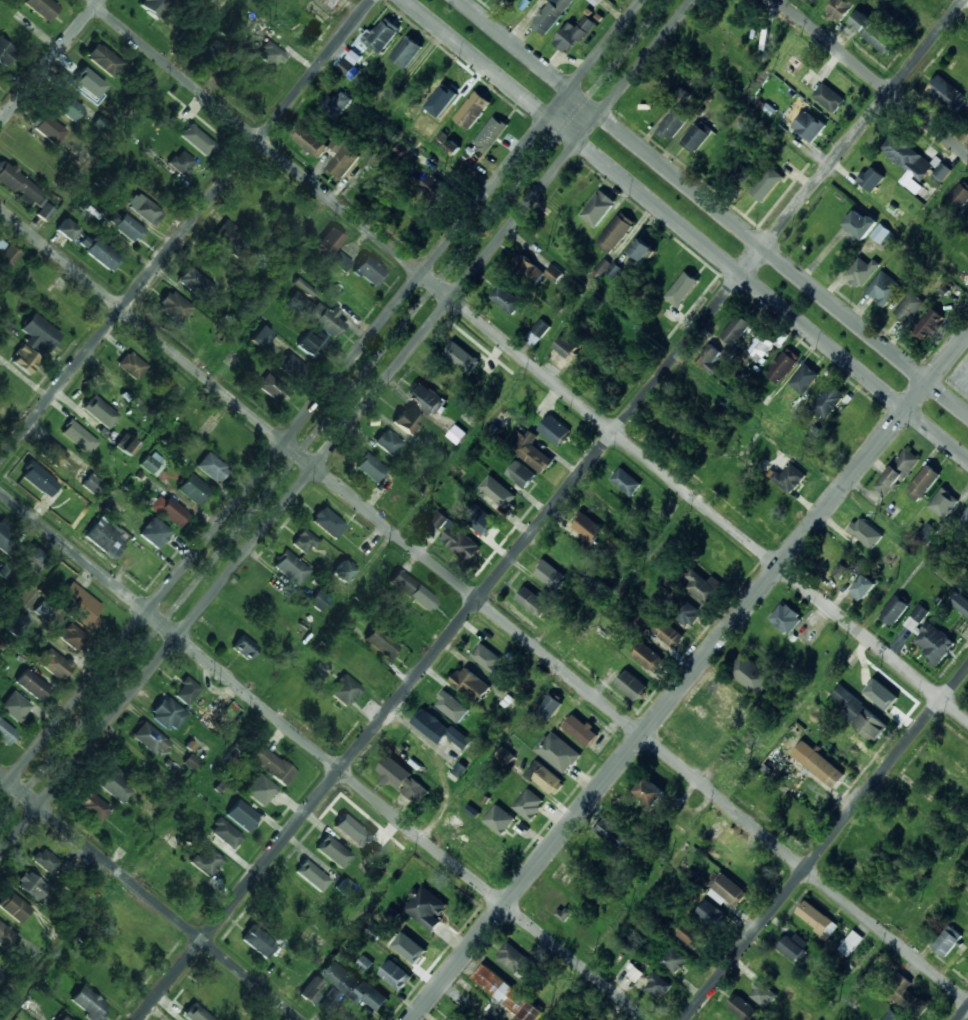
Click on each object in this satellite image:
building: (813, 1)
building: (520, 5)
building: (152, 6)
building: (41, 8)
building: (839, 9)
building: (727, 13)
building: (552, 15)
building: (896, 16)
building: (256, 26)
building: (874, 33)
building: (574, 34)
building: (383, 35)
building: (407, 52)
building: (5, 53)
building: (214, 54)
building: (270, 55)
building: (103, 60)
road: (49, 61)
building: (350, 65)
road: (874, 76)
building: (87, 82)
building: (446, 92)
building: (945, 92)
building: (829, 98)
building: (652, 103)
building: (337, 104)
building: (65, 106)
building: (472, 110)
building: (676, 121)
building: (809, 127)
building: (47, 129)
building: (426, 129)
building: (490, 135)
building: (695, 138)
building: (196, 139)
building: (311, 141)
building: (452, 147)
building: (29, 152)
building: (343, 157)
building: (905, 160)
building: (181, 163)
building: (941, 173)
building: (740, 175)
building: (871, 178)
building: (18, 185)
building: (435, 188)
building: (767, 191)
building: (267, 194)
building: (960, 194)
road: (714, 207)
building: (143, 209)
building: (600, 210)
building: (44, 211)
building: (411, 219)
building: (860, 224)
building: (128, 229)
road: (185, 229)
road: (687, 229)
building: (66, 231)
building: (616, 233)
building: (881, 233)
building: (229, 241)
building: (329, 243)
building: (642, 250)
building: (98, 252)
building: (6, 257)
building: (340, 262)
building: (602, 266)
building: (613, 269)
building: (533, 271)
building: (861, 271)
building: (369, 272)
building: (194, 283)
building: (682, 288)
building: (883, 288)
building: (507, 300)
building: (173, 307)
building: (909, 308)
building: (315, 314)
building: (5, 321)
building: (929, 326)
building: (737, 328)
building: (40, 333)
building: (537, 333)
building: (260, 338)
building: (312, 344)
building: (761, 346)
building: (566, 348)
building: (465, 358)
building: (710, 358)
road: (528, 359)
building: (24, 360)
building: (783, 365)
building: (131, 366)
building: (293, 368)
building: (804, 379)
building: (271, 389)
road: (321, 396)
building: (426, 398)
building: (828, 402)
road: (330, 409)
road: (169, 415)
building: (103, 416)
building: (407, 421)
building: (848, 423)
road: (345, 427)
building: (555, 430)
building: (457, 434)
building: (78, 437)
building: (388, 443)
building: (125, 445)
building: (530, 451)
building: (437, 457)
building: (59, 460)
building: (153, 464)
building: (211, 468)
building: (371, 468)
building: (897, 472)
building: (521, 475)
building: (789, 478)
building: (39, 480)
building: (626, 482)
building: (923, 482)
building: (92, 484)
building: (194, 490)
building: (500, 497)
building: (946, 500)
road: (550, 509)
building: (168, 511)
building: (965, 518)
building: (439, 520)
building: (480, 520)
building: (327, 523)
building: (587, 527)
building: (865, 532)
building: (5, 534)
building: (154, 534)
building: (106, 538)
building: (460, 542)
building: (304, 543)
building: (365, 546)
building: (34, 559)
building: (841, 567)
building: (290, 568)
building: (343, 571)
building: (549, 573)
building: (700, 586)
building: (865, 586)
building: (598, 587)
building: (412, 591)
building: (319, 600)
building: (532, 601)
building: (960, 602)
road: (484, 605)
building: (82, 606)
building: (895, 609)
building: (685, 611)
building: (785, 616)
road: (326, 617)
building: (16, 625)
building: (659, 628)
building: (72, 637)
building: (934, 642)
building: (380, 643)
building: (243, 646)
building: (647, 656)
building: (488, 659)
building: (54, 664)
building: (364, 667)
building: (750, 674)
road: (689, 676)
building: (471, 683)
building: (32, 684)
building: (632, 685)
building: (186, 691)
building: (343, 691)
building: (887, 701)
building: (17, 706)
building: (451, 706)
building: (549, 706)
building: (211, 713)
building: (860, 713)
building: (167, 714)
building: (329, 716)
building: (438, 727)
building: (581, 730)
building: (5, 733)
building: (150, 739)
building: (558, 751)
road: (323, 756)
building: (505, 756)
road: (485, 758)
building: (775, 760)
building: (130, 763)
building: (818, 764)
building: (272, 765)
building: (545, 778)
building: (403, 779)
building: (112, 783)
building: (261, 792)
building: (654, 793)
building: (529, 804)
building: (92, 806)
building: (791, 813)
building: (242, 815)
building: (505, 824)
road: (704, 824)
building: (350, 831)
building: (612, 832)
building: (225, 833)
building: (171, 839)
road: (824, 844)
building: (389, 846)
building: (329, 848)
building: (152, 856)
building: (595, 856)
building: (45, 861)
building: (206, 861)
building: (307, 870)
building: (186, 883)
building: (31, 886)
building: (730, 889)
road: (149, 897)
building: (13, 907)
building: (425, 907)
building: (564, 913)
building: (710, 913)
building: (817, 918)
building: (691, 936)
building: (7, 938)
building: (146, 940)
building: (947, 940)
building: (257, 941)
building: (850, 942)
building: (794, 946)
building: (408, 949)
building: (674, 959)
building: (516, 960)
building: (635, 973)
building: (395, 974)
building: (657, 985)
building: (349, 986)
building: (311, 990)
building: (762, 993)
building: (507, 994)
building: (906, 995)
building: (88, 1003)
building: (743, 1007)
building: (196, 1013)
road: (962, 1013)
building: (455, 1016)
building: (892, 1016)
building: (601, 1019)

